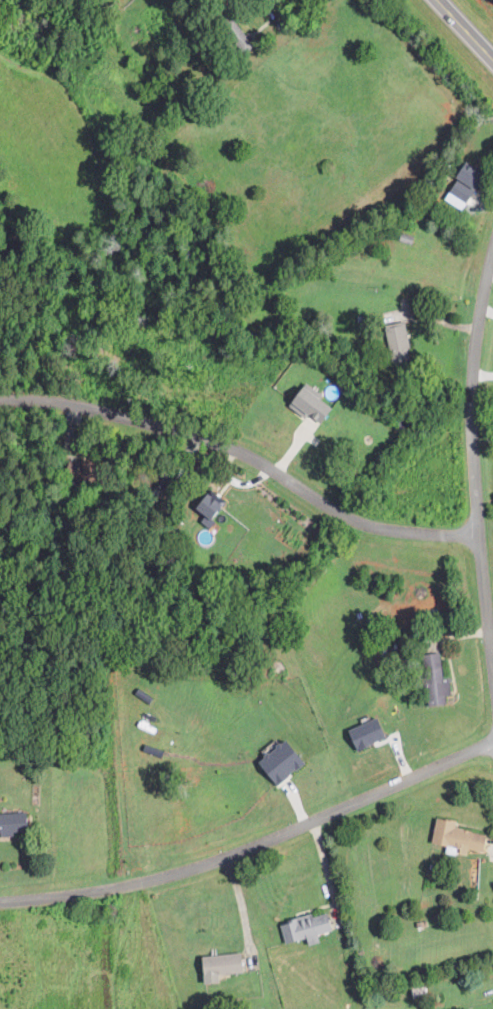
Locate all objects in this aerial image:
road: (466, 28)
building: (476, 172)
building: (461, 195)
road: (487, 310)
road: (430, 318)
building: (401, 340)
road: (483, 375)
building: (314, 403)
road: (246, 454)
road: (473, 456)
building: (213, 507)
building: (440, 679)
building: (370, 733)
building: (286, 760)
building: (16, 823)
building: (461, 835)
road: (254, 847)
road: (242, 907)
building: (309, 927)
building: (225, 965)

